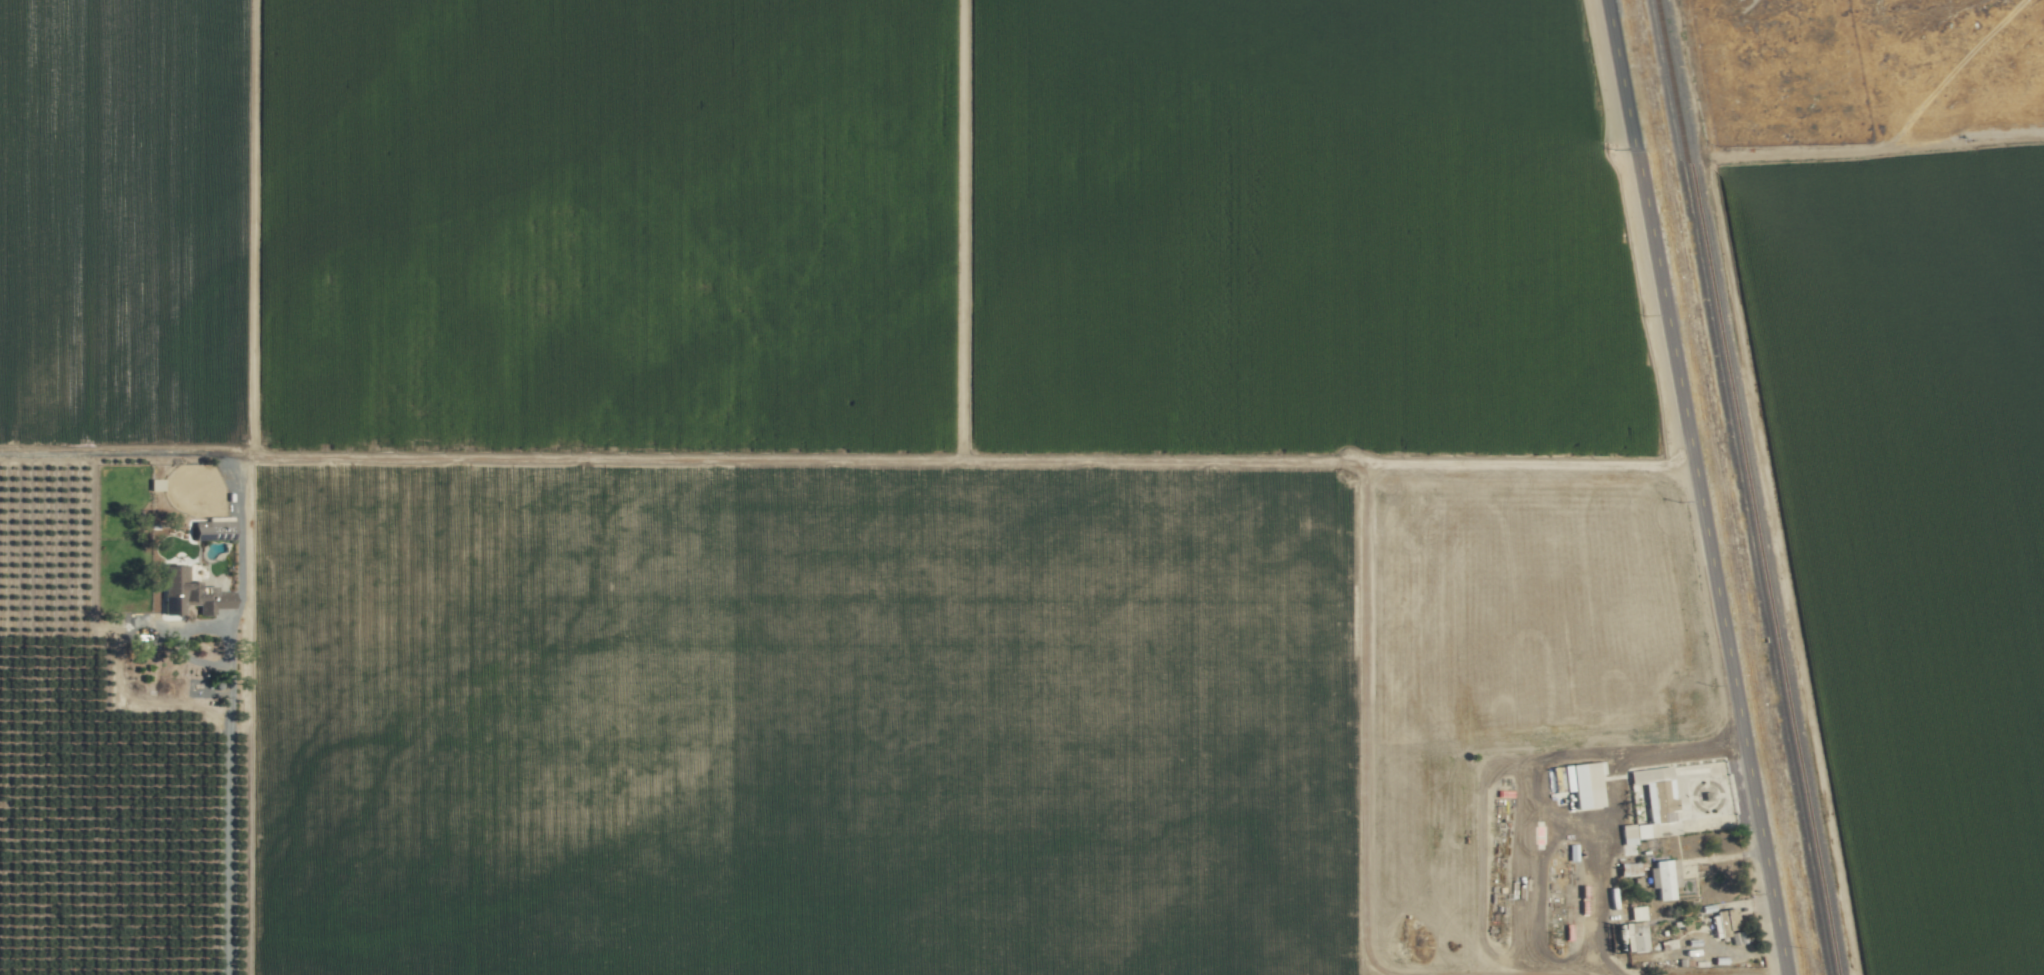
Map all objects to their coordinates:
road: (961, 459)
road: (1696, 487)
railway: (1746, 487)
building: (216, 529)
building: (207, 597)
building: (1583, 784)
building: (1655, 813)
building: (1666, 879)
building: (1730, 925)
building: (1637, 931)

